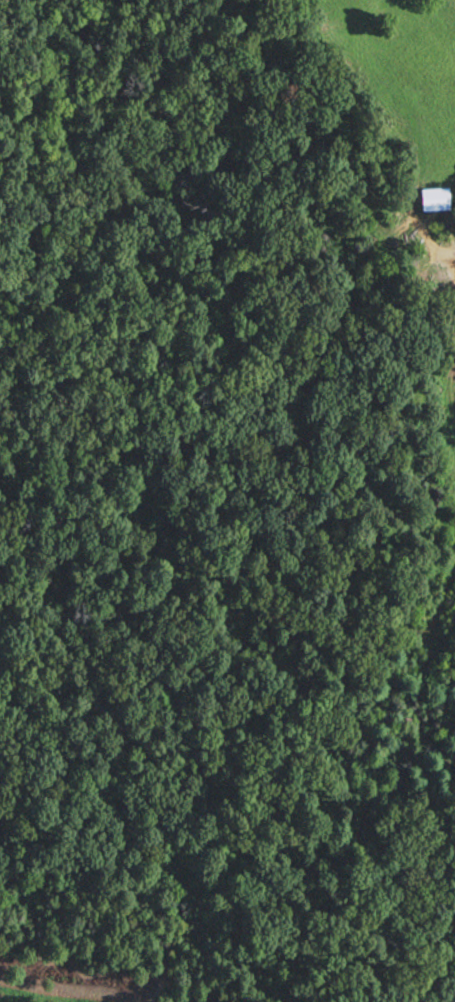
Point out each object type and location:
building: (429, 198)

